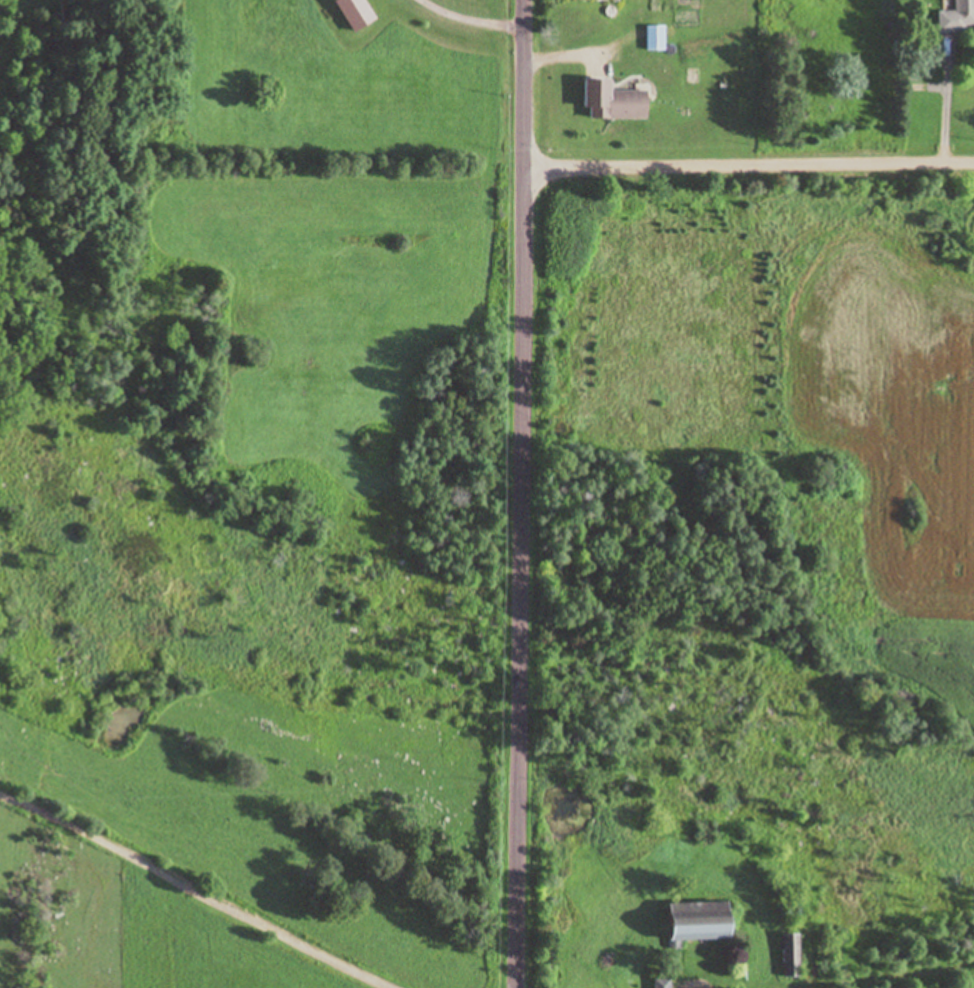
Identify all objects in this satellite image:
building: (956, 17)
building: (653, 39)
building: (606, 102)
road: (749, 166)
road: (523, 494)
building: (690, 920)
building: (787, 956)

